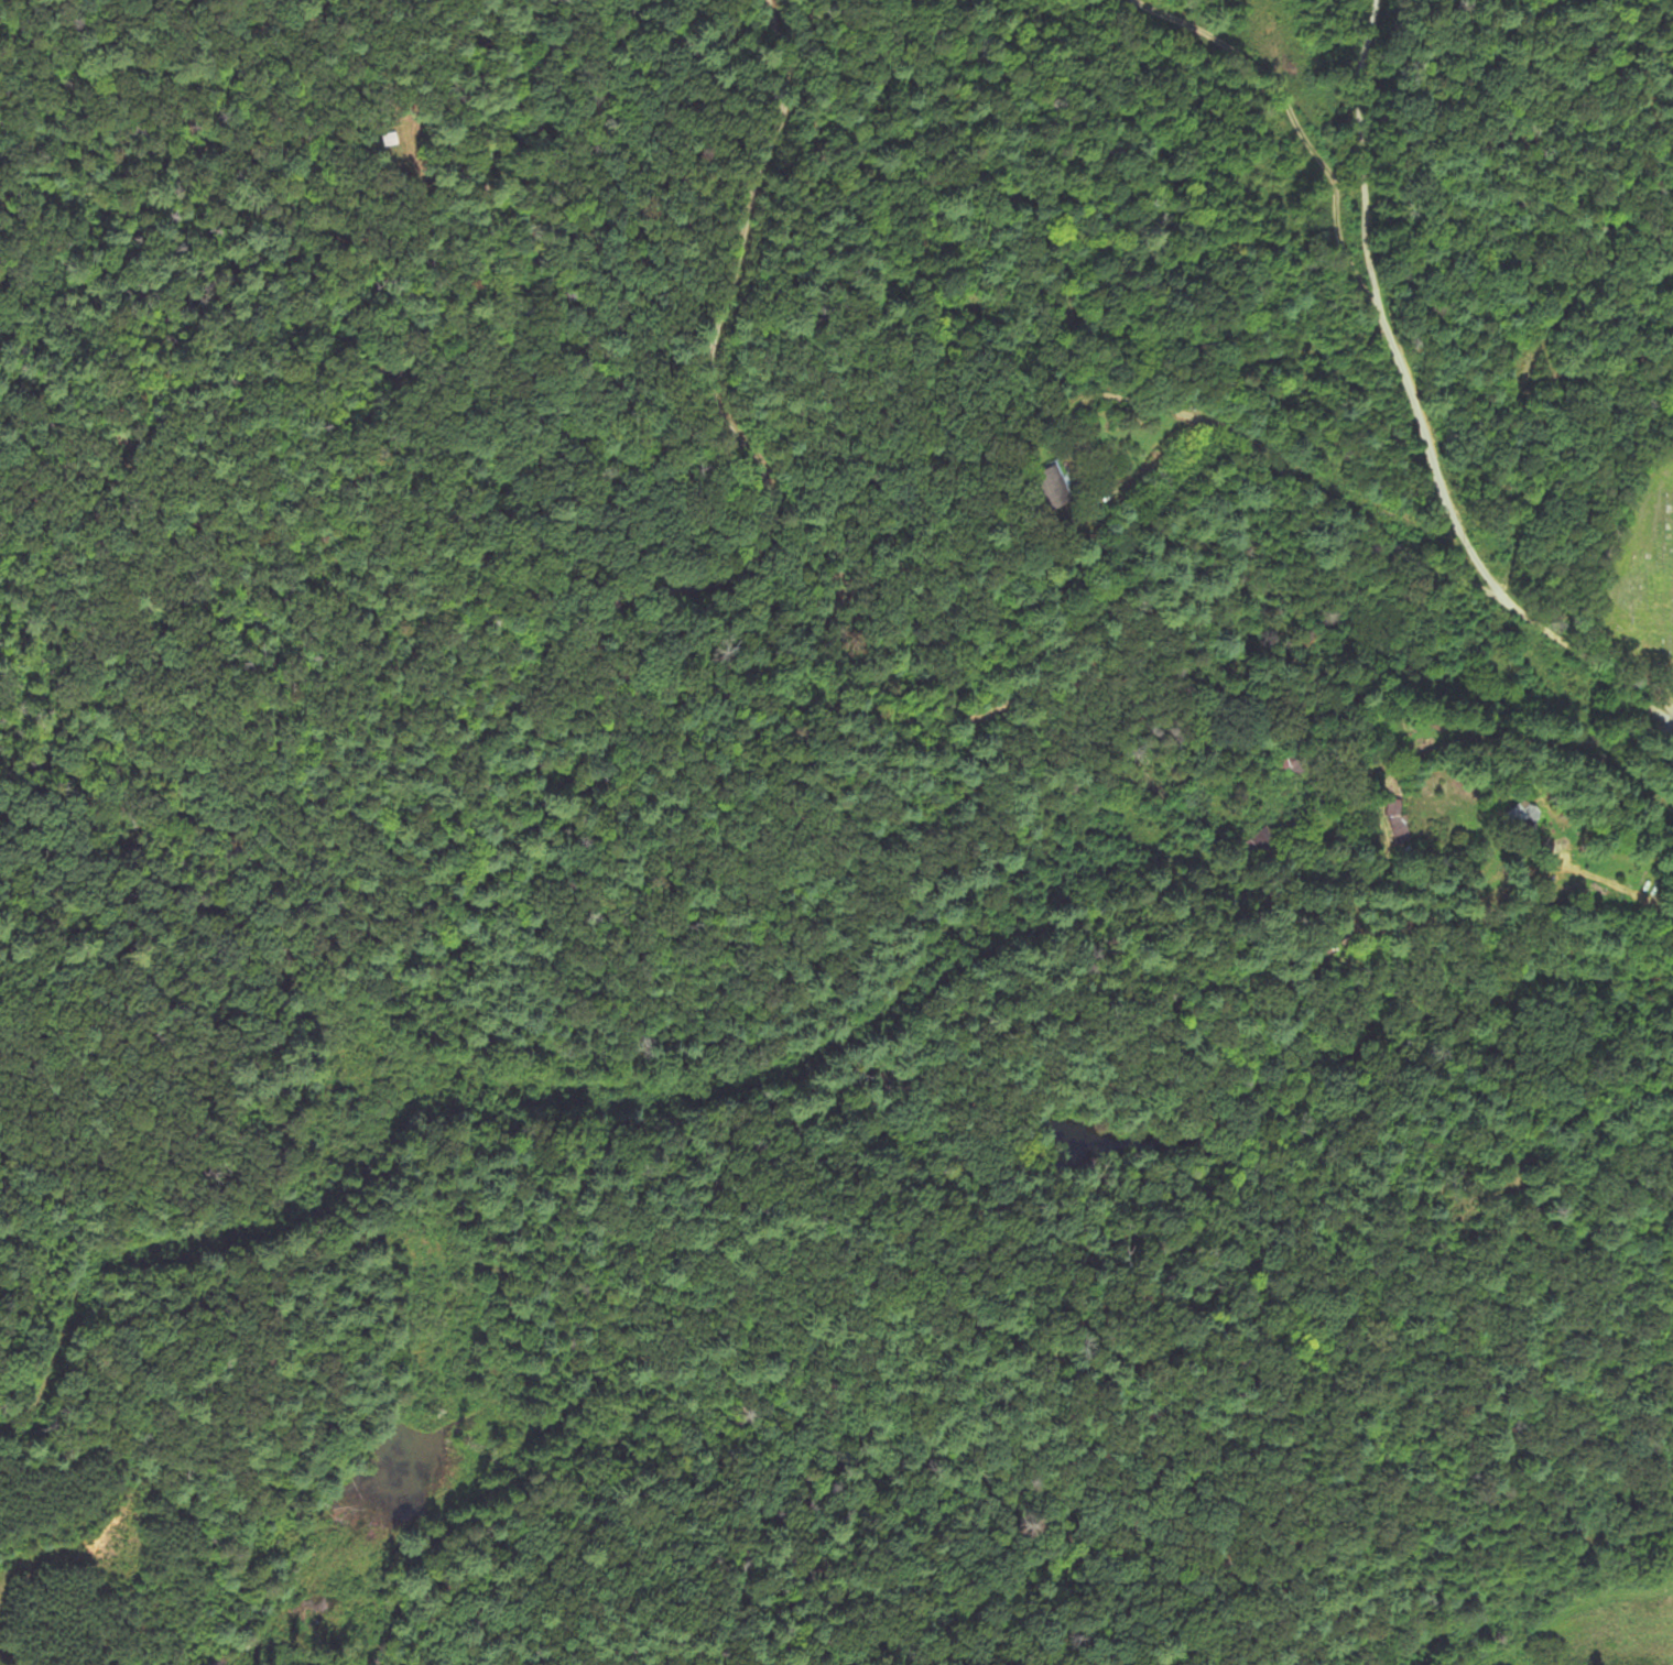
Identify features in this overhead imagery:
road: (1359, 77)
road: (1304, 130)
road: (1446, 476)
park: (1633, 579)
road: (1671, 709)
road: (830, 1019)

